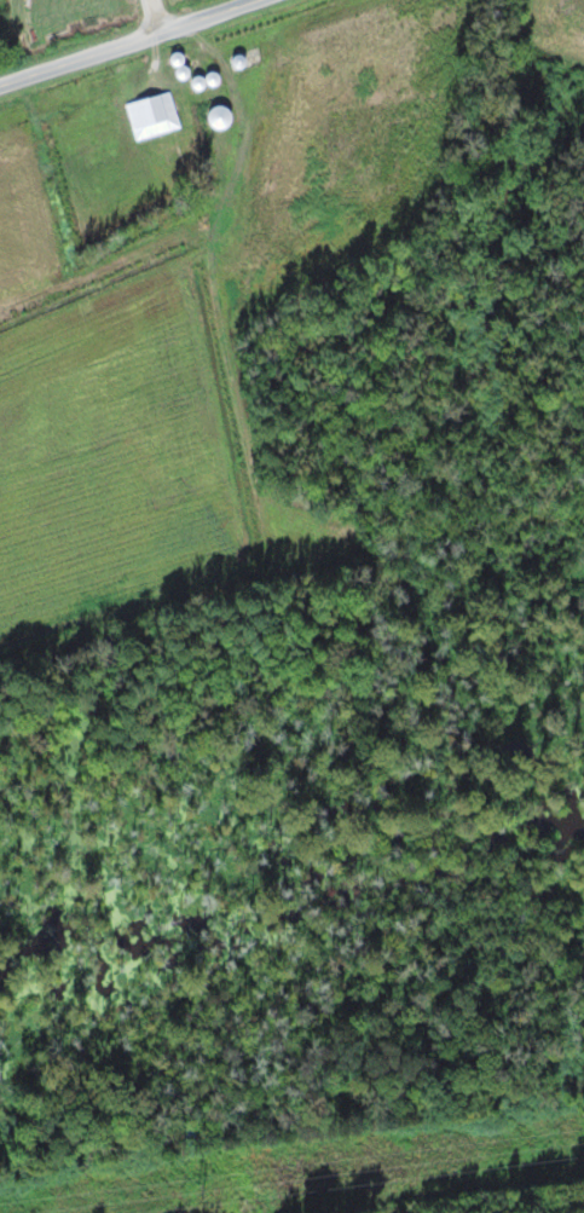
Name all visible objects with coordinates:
road: (126, 45)
building: (152, 116)
building: (219, 119)
power tower: (197, 1194)

